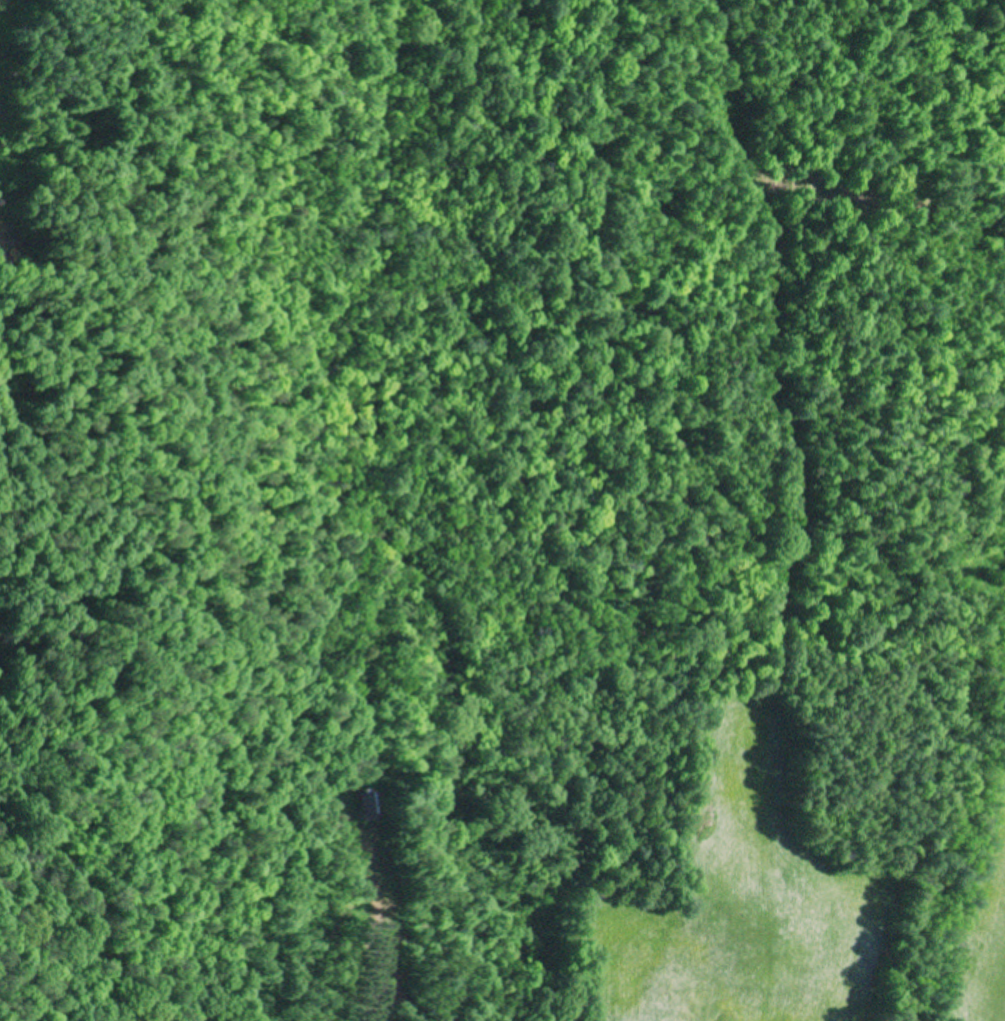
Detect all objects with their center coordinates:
building: (362, 805)

